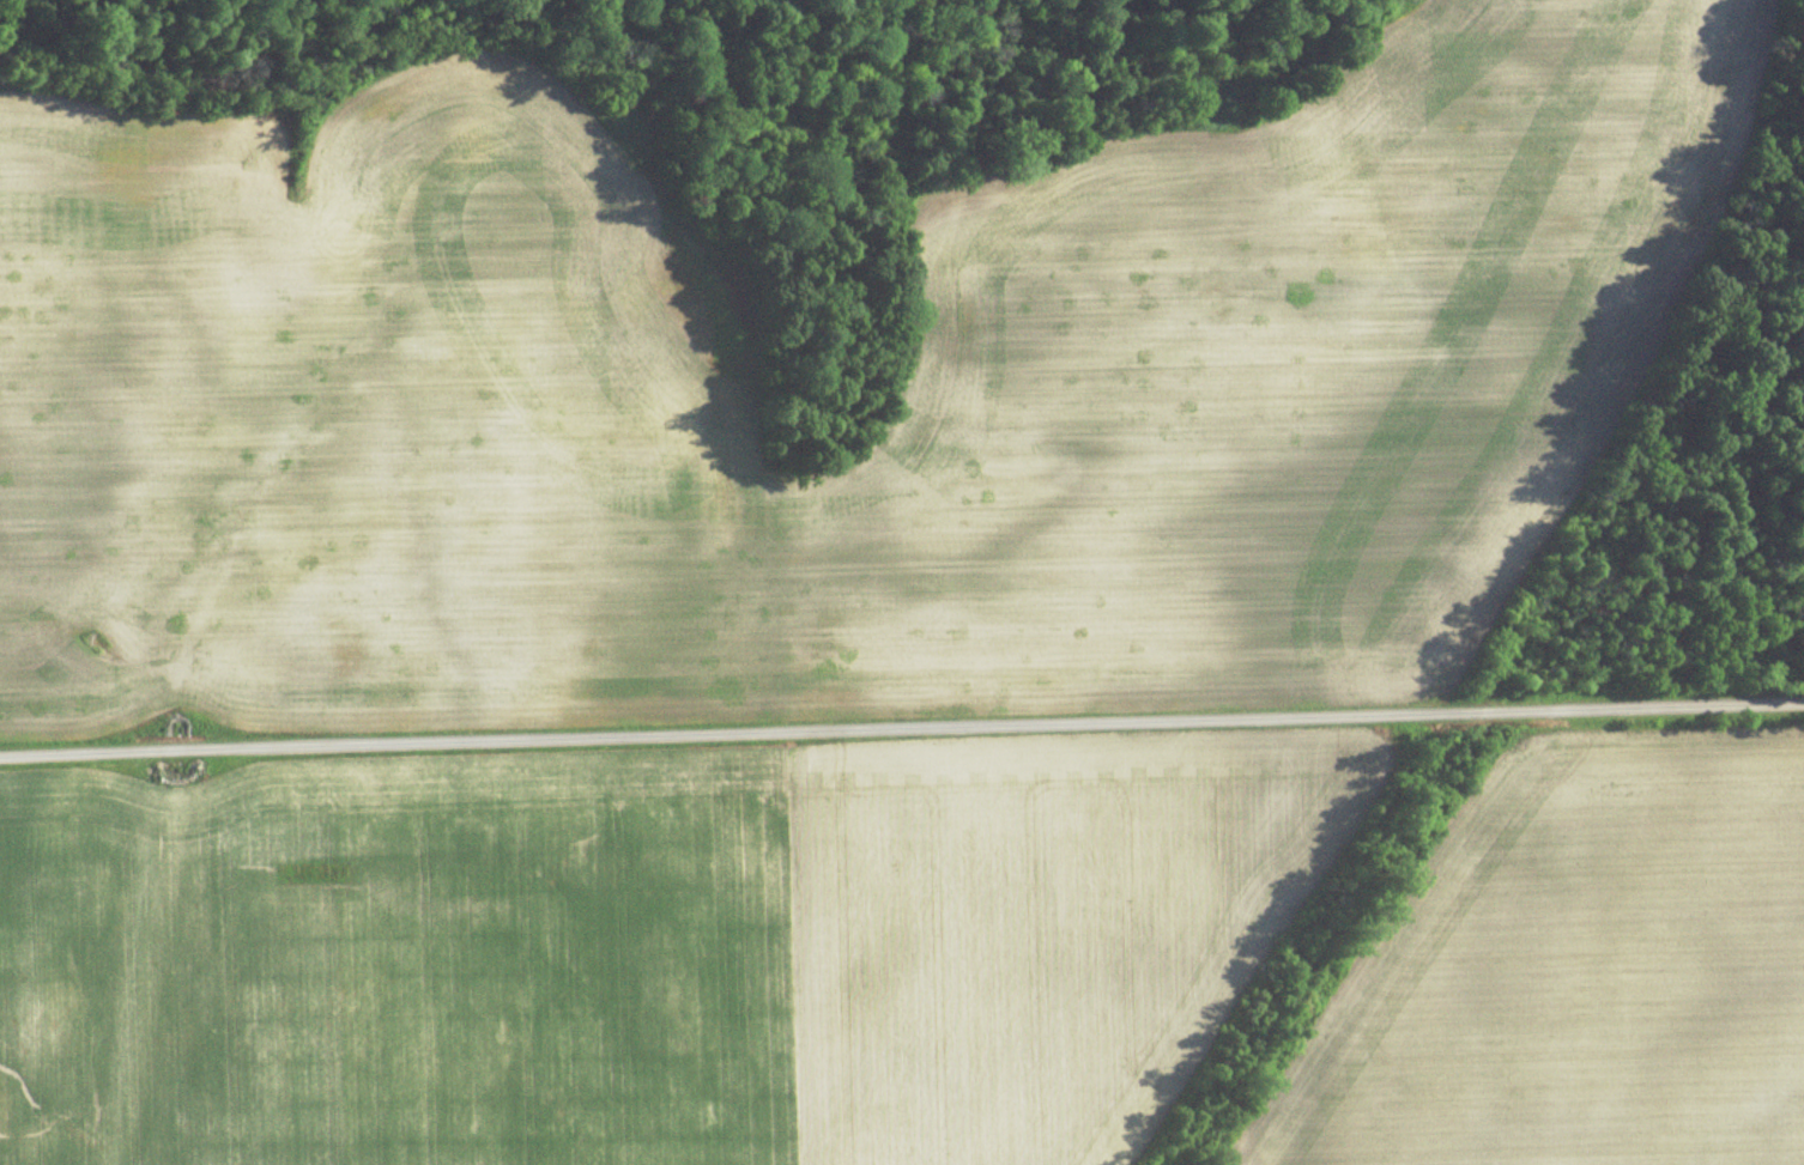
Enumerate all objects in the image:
road: (901, 732)

